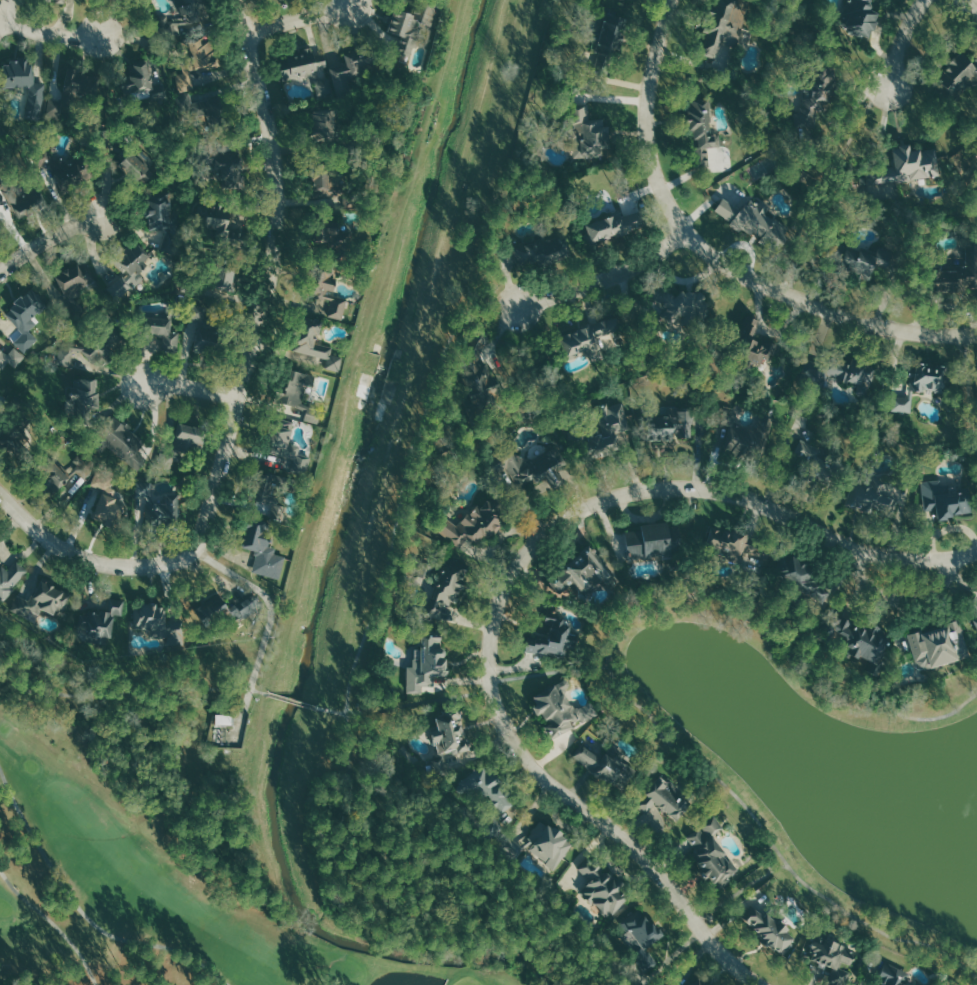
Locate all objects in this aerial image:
building: (58, 1)
road: (972, 4)
building: (194, 10)
road: (5, 12)
building: (861, 17)
road: (300, 19)
building: (165, 21)
building: (410, 26)
building: (728, 28)
road: (52, 36)
building: (610, 43)
road: (902, 43)
building: (198, 62)
building: (309, 70)
building: (349, 70)
building: (18, 74)
building: (960, 74)
building: (140, 80)
building: (197, 105)
road: (647, 119)
building: (702, 120)
building: (324, 124)
building: (589, 134)
building: (3, 138)
building: (61, 166)
building: (139, 166)
building: (227, 168)
building: (899, 173)
building: (326, 185)
building: (27, 198)
building: (160, 211)
building: (754, 219)
building: (216, 222)
building: (613, 226)
building: (331, 230)
road: (49, 240)
building: (543, 250)
building: (867, 262)
building: (129, 269)
building: (956, 270)
road: (608, 275)
building: (78, 278)
building: (224, 278)
road: (270, 279)
building: (329, 295)
road: (822, 309)
building: (199, 312)
building: (27, 317)
building: (161, 335)
building: (591, 335)
building: (207, 341)
building: (315, 342)
building: (102, 346)
building: (754, 347)
building: (11, 358)
building: (479, 372)
building: (838, 374)
building: (931, 378)
road: (192, 389)
building: (298, 389)
building: (83, 401)
building: (903, 404)
building: (313, 417)
building: (614, 419)
building: (673, 425)
building: (190, 433)
building: (745, 435)
building: (11, 440)
building: (123, 444)
building: (287, 445)
building: (173, 458)
building: (814, 458)
building: (528, 468)
building: (53, 475)
building: (280, 480)
road: (398, 482)
building: (872, 499)
building: (948, 499)
building: (163, 504)
building: (267, 505)
road: (772, 507)
building: (108, 509)
building: (473, 525)
building: (255, 533)
building: (653, 541)
road: (87, 557)
building: (581, 572)
building: (10, 577)
building: (803, 579)
building: (448, 592)
road: (901, 597)
building: (40, 599)
building: (226, 608)
building: (973, 608)
road: (273, 611)
building: (150, 617)
building: (95, 625)
building: (554, 635)
building: (859, 638)
building: (940, 645)
building: (426, 658)
road: (550, 675)
road: (616, 682)
road: (128, 692)
road: (293, 699)
road: (418, 702)
building: (562, 709)
building: (224, 720)
building: (450, 729)
building: (608, 768)
road: (543, 777)
building: (485, 787)
building: (663, 799)
building: (546, 843)
building: (713, 853)
park: (171, 874)
road: (405, 885)
building: (600, 887)
road: (742, 888)
road: (81, 911)
road: (55, 922)
building: (770, 929)
building: (640, 935)
building: (831, 956)
building: (894, 976)
park: (467, 981)
building: (697, 981)
building: (670, 982)

